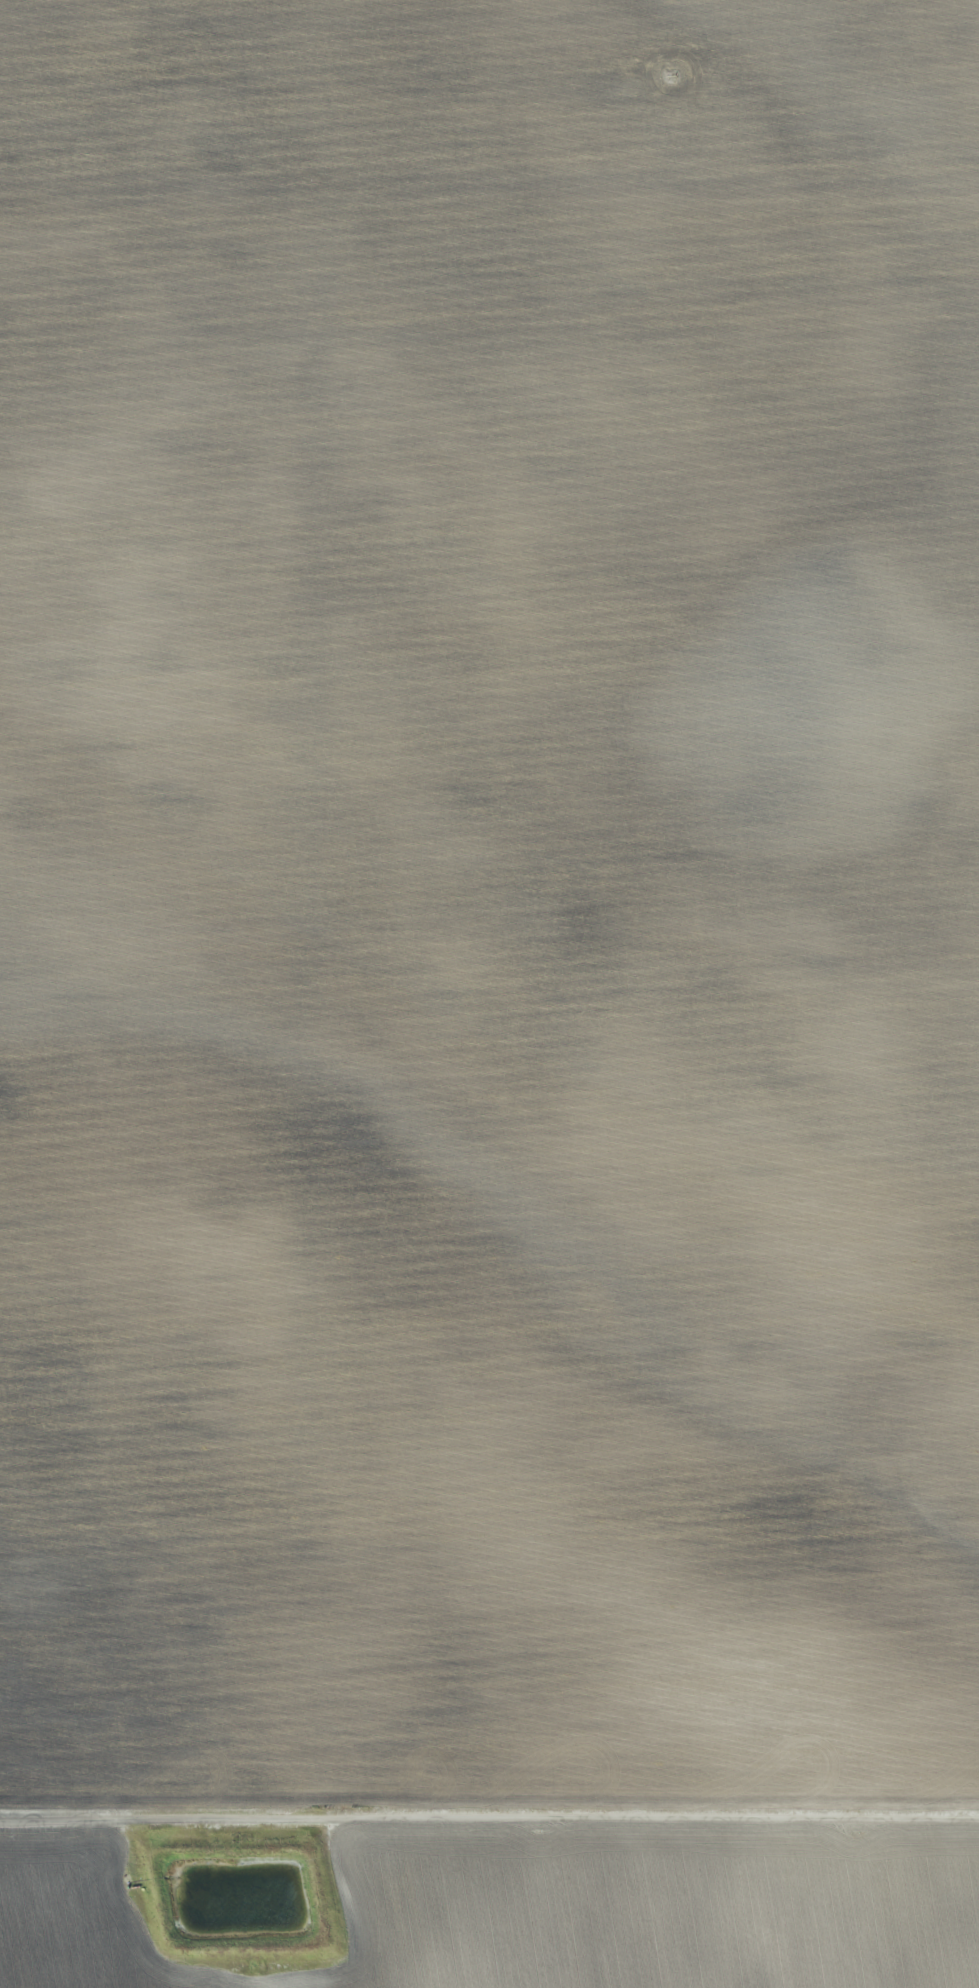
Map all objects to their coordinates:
road: (489, 1822)

